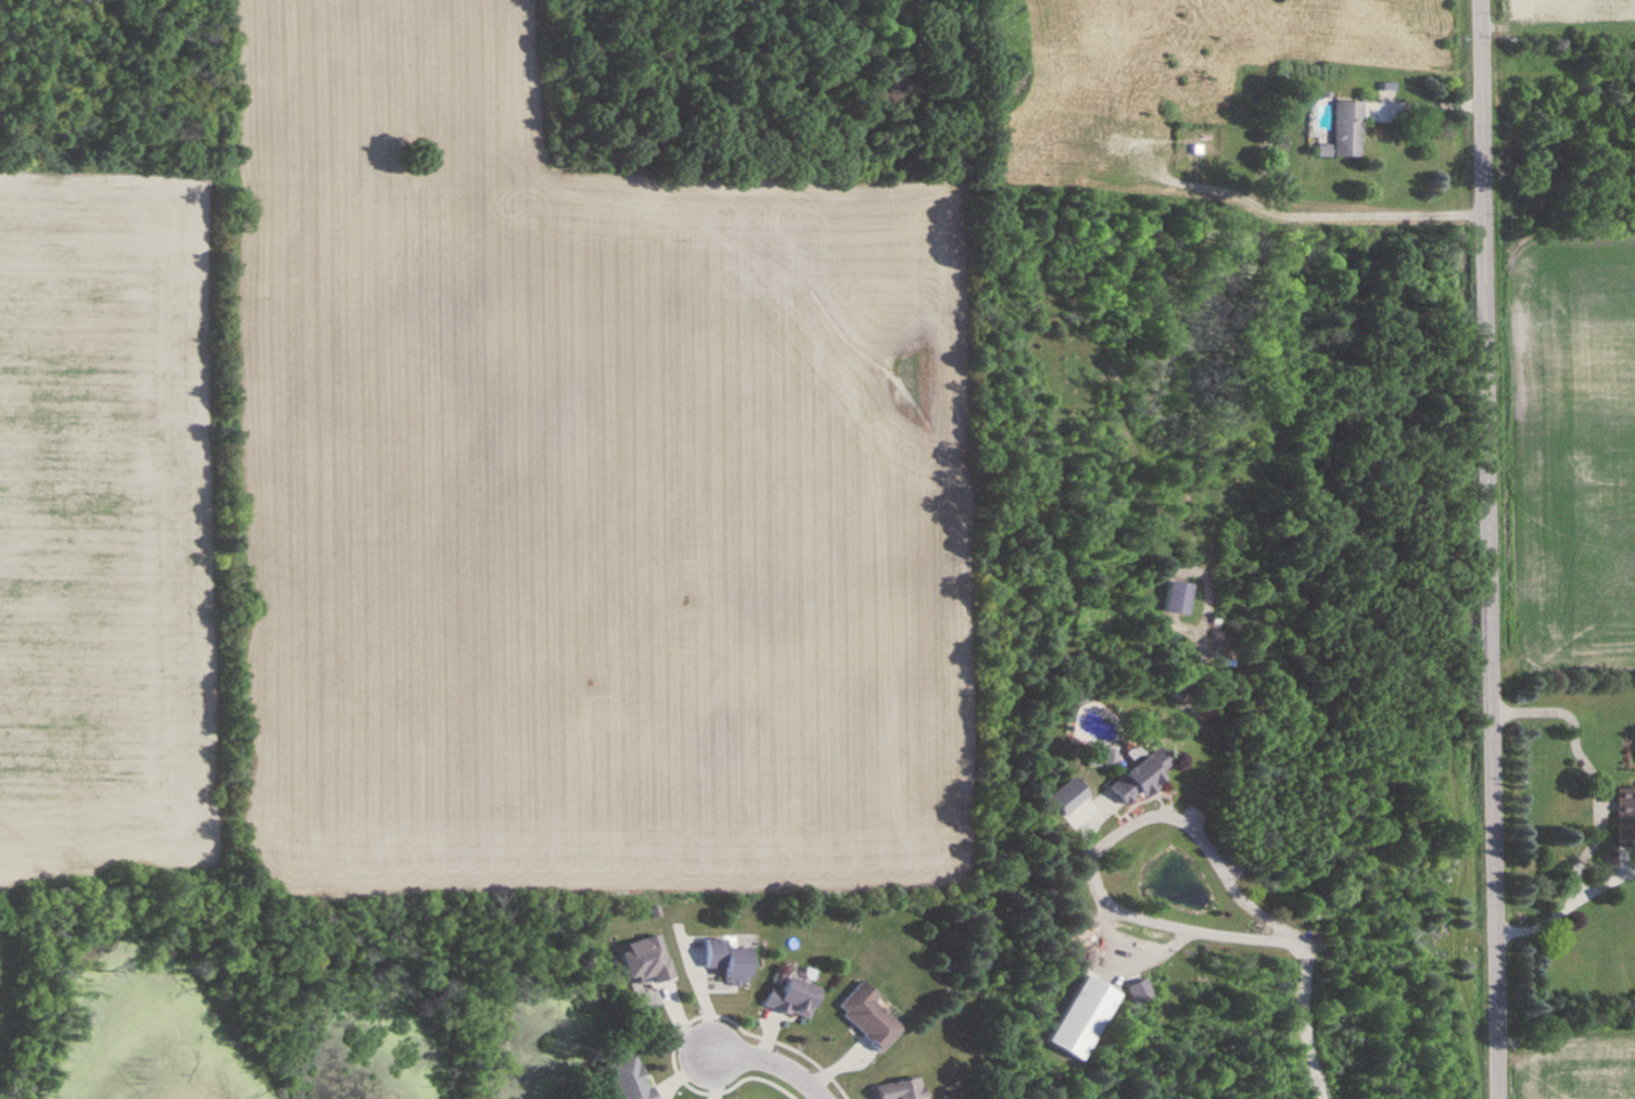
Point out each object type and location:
building: (1600, 60)
road: (1427, 103)
building: (1348, 129)
road: (1492, 548)
building: (1179, 598)
building: (1143, 775)
building: (1066, 801)
building: (1626, 809)
road: (1597, 812)
road: (1099, 839)
building: (647, 959)
building: (728, 960)
building: (795, 998)
road: (1301, 1013)
building: (871, 1016)
building: (1086, 1016)
road: (772, 1064)
building: (630, 1078)
building: (902, 1089)

